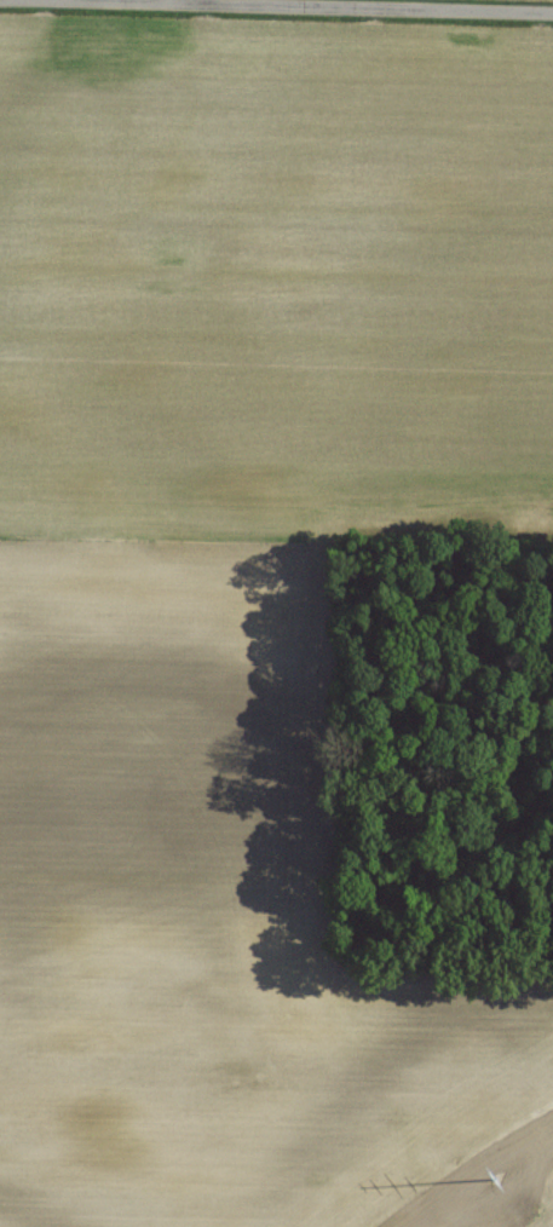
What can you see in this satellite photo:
road: (289, 6)
power tower: (515, 1210)

